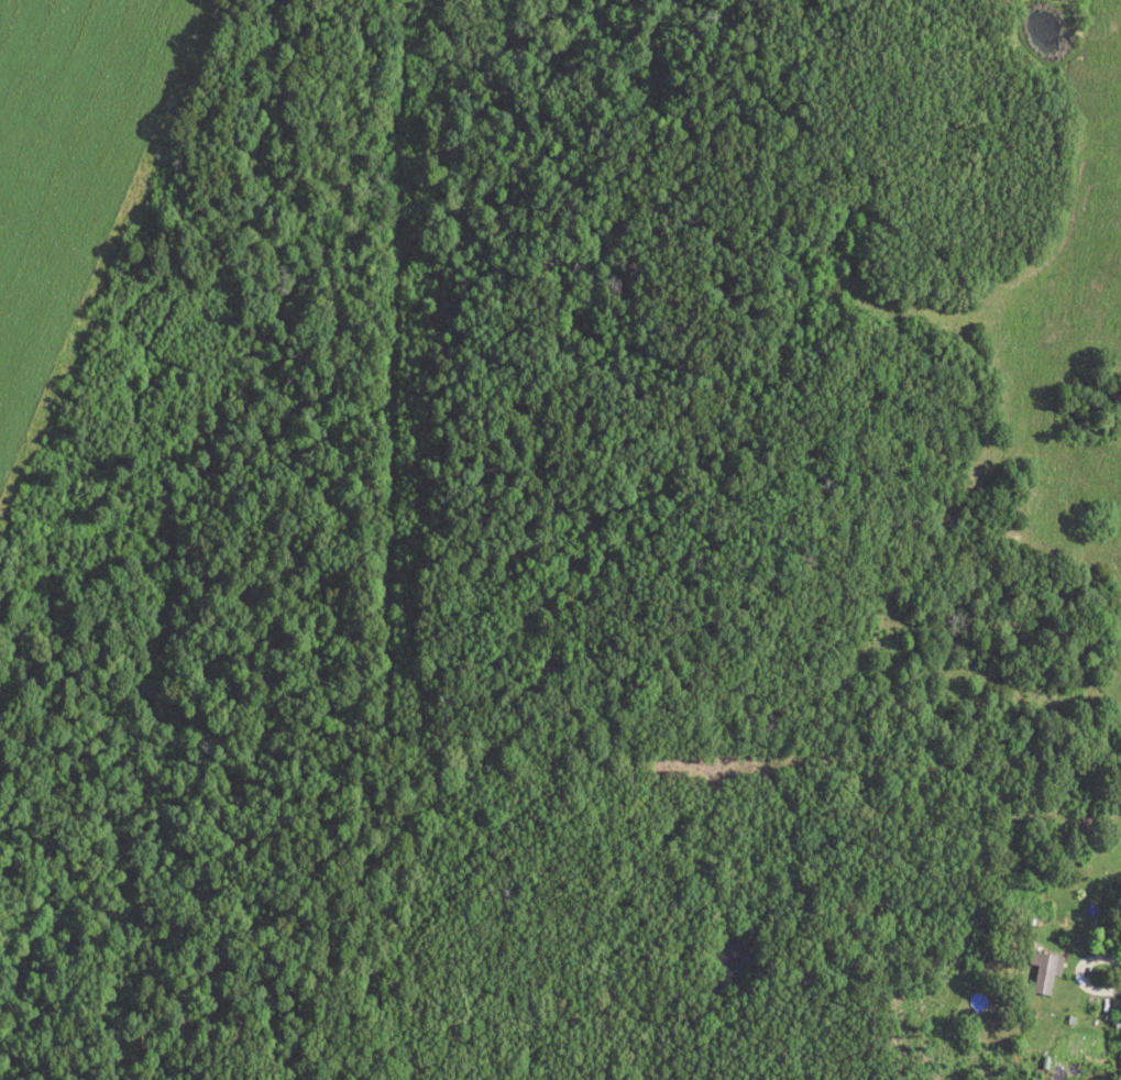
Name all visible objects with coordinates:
building: (1044, 973)
road: (1093, 978)

